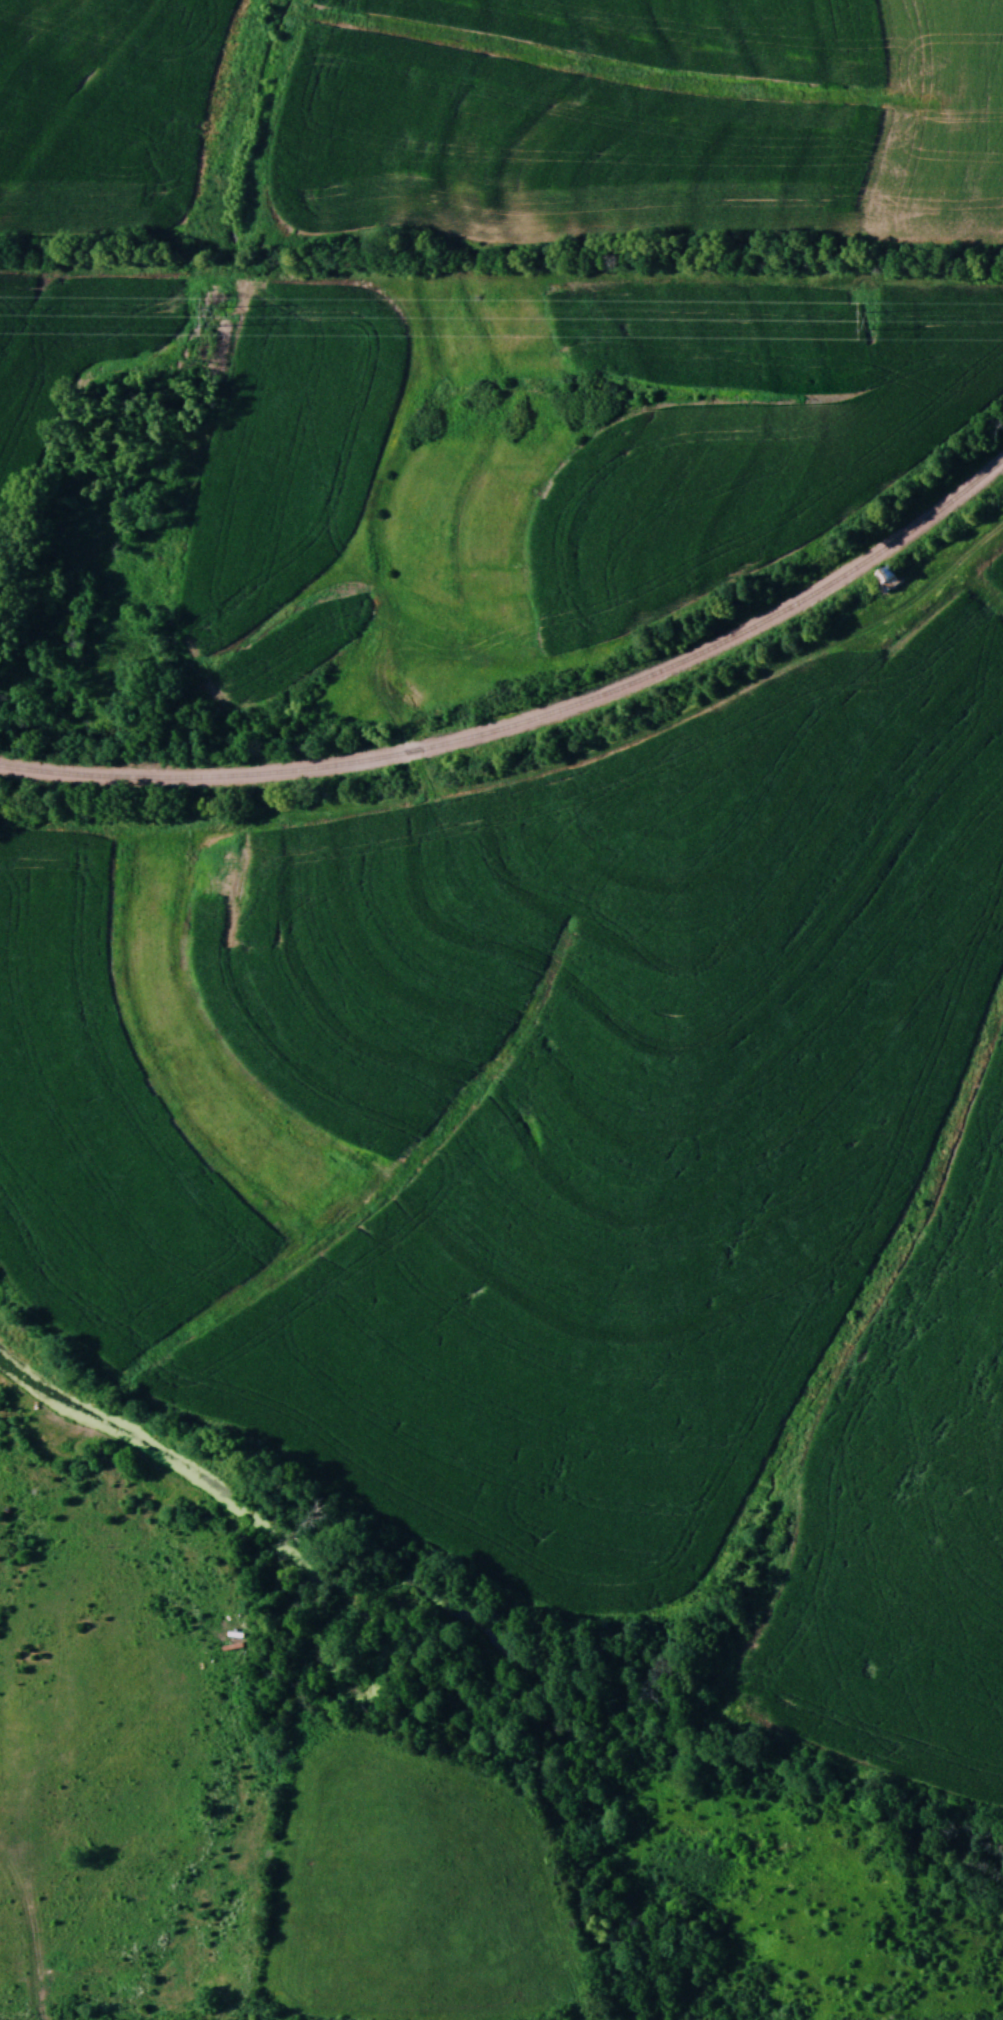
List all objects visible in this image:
power tower: (218, 315)
power tower: (870, 319)
building: (886, 578)
railway: (531, 712)

